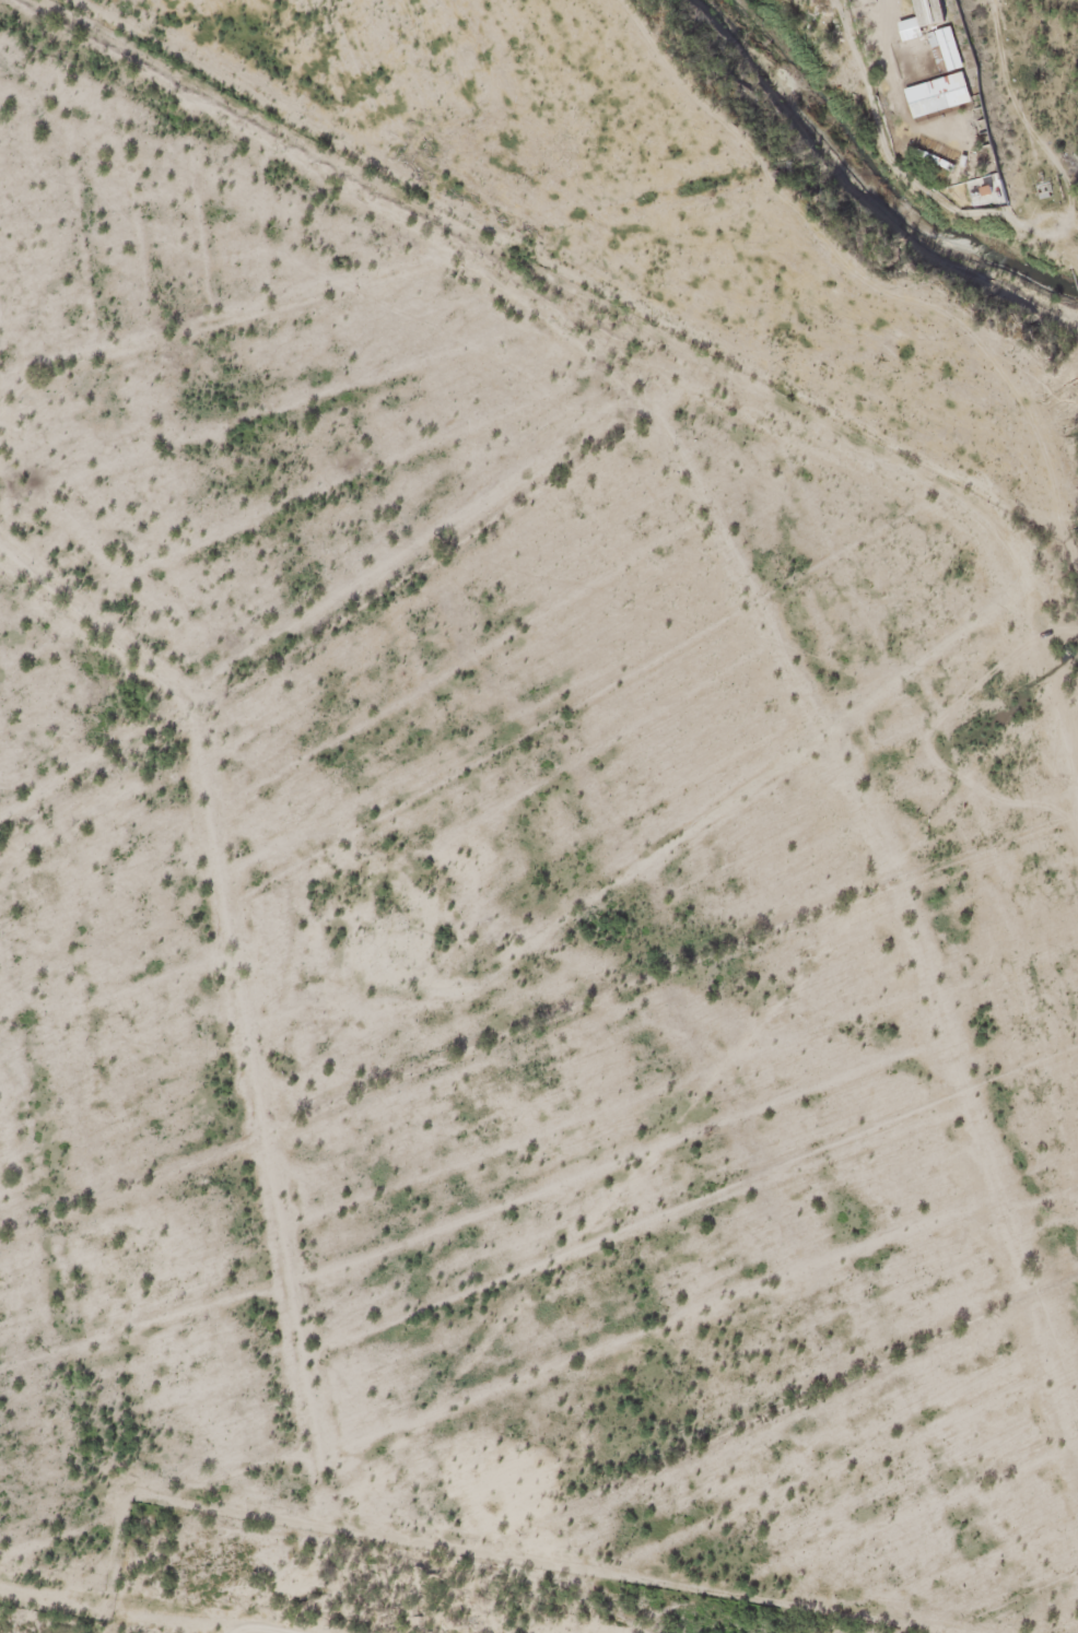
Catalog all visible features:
road: (859, 51)
road: (270, 1628)

